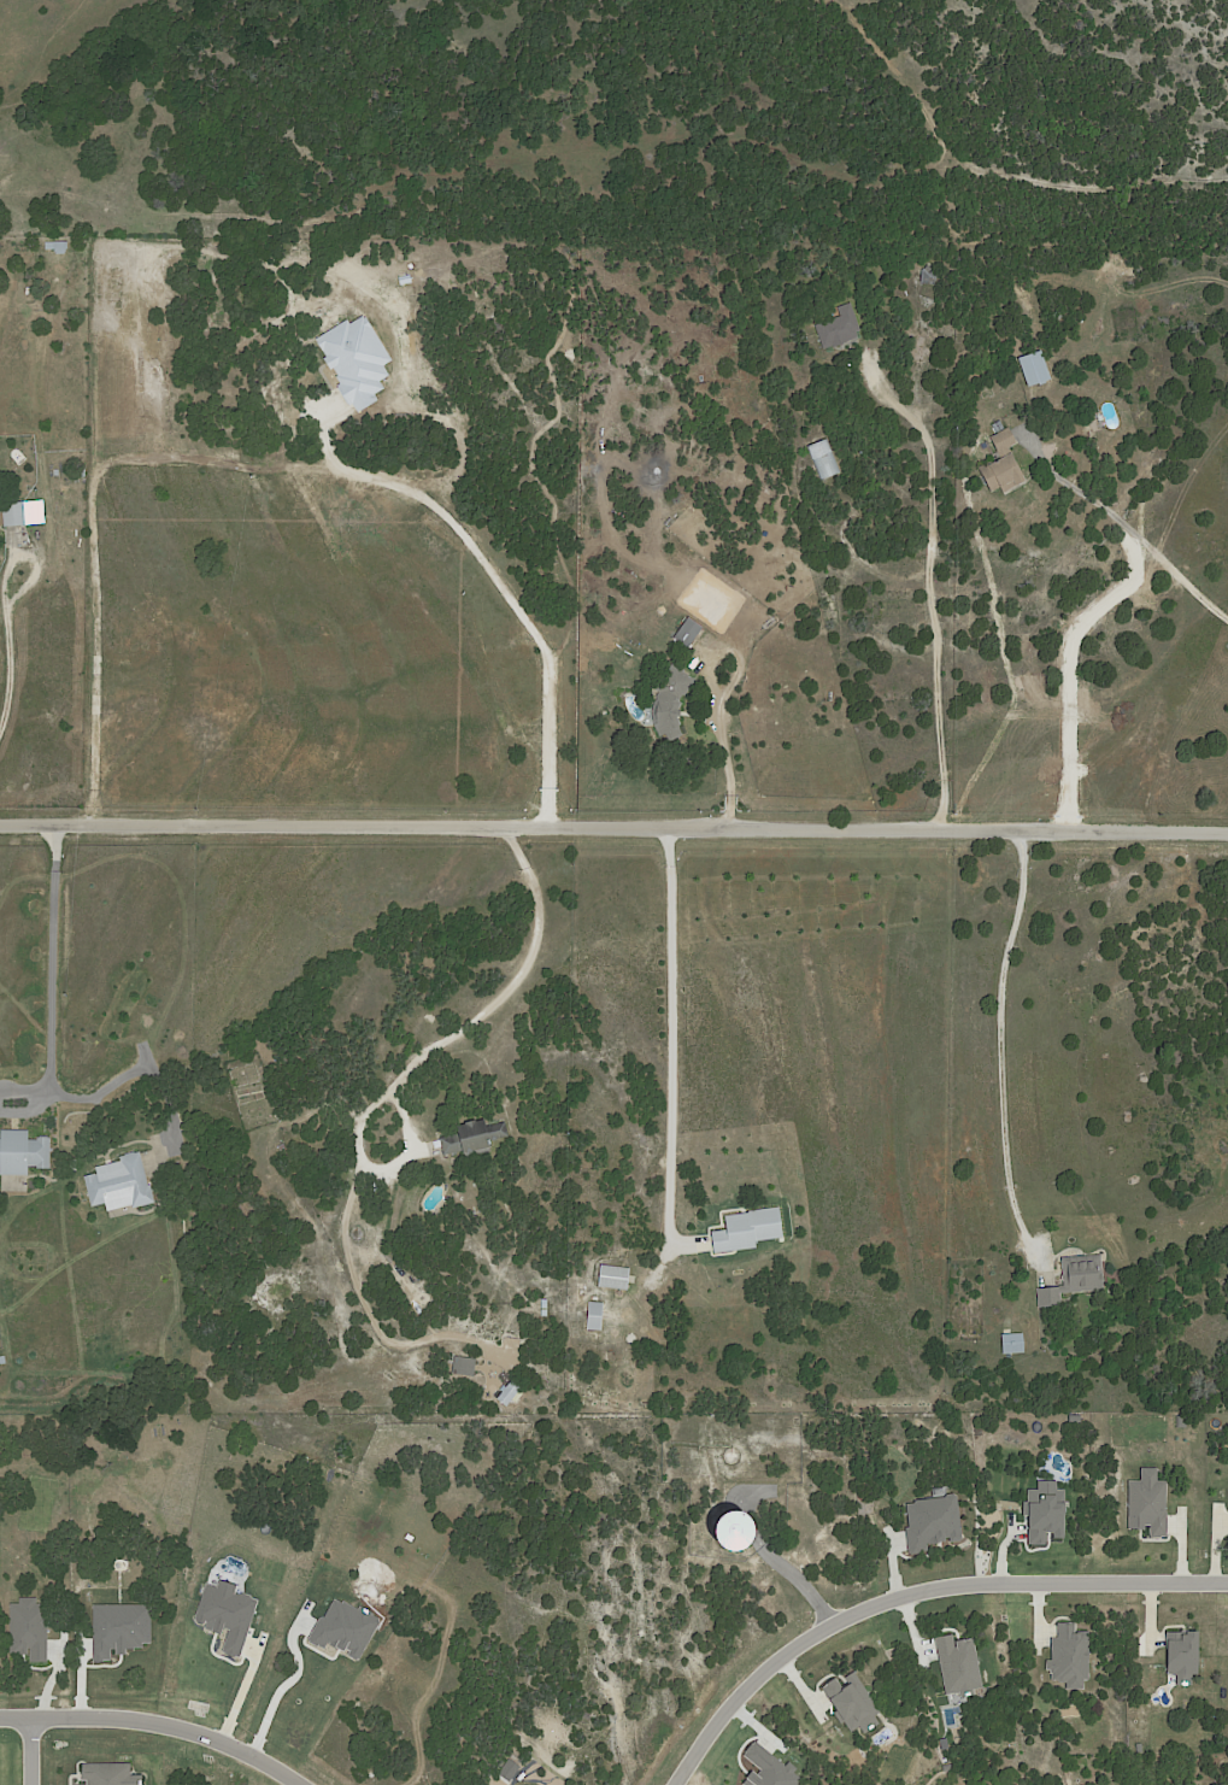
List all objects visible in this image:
building: (59, 245)
building: (838, 327)
building: (143, 344)
building: (170, 354)
building: (1035, 368)
building: (283, 384)
building: (995, 425)
building: (1001, 440)
building: (822, 458)
road: (275, 463)
building: (83, 472)
building: (1001, 474)
building: (16, 513)
building: (0, 525)
road: (1132, 528)
road: (935, 600)
building: (688, 632)
road: (5, 636)
road: (1073, 665)
building: (671, 699)
road: (613, 823)
road: (480, 1011)
road: (668, 1033)
road: (1000, 1034)
road: (48, 1047)
building: (475, 1135)
building: (23, 1153)
building: (748, 1231)
building: (613, 1276)
building: (1073, 1279)
building: (597, 1315)
building: (1012, 1341)
building: (4, 1360)
building: (727, 1454)
road: (912, 1592)
road: (283, 1681)
road: (243, 1699)
road: (148, 1727)
road: (27, 1751)

